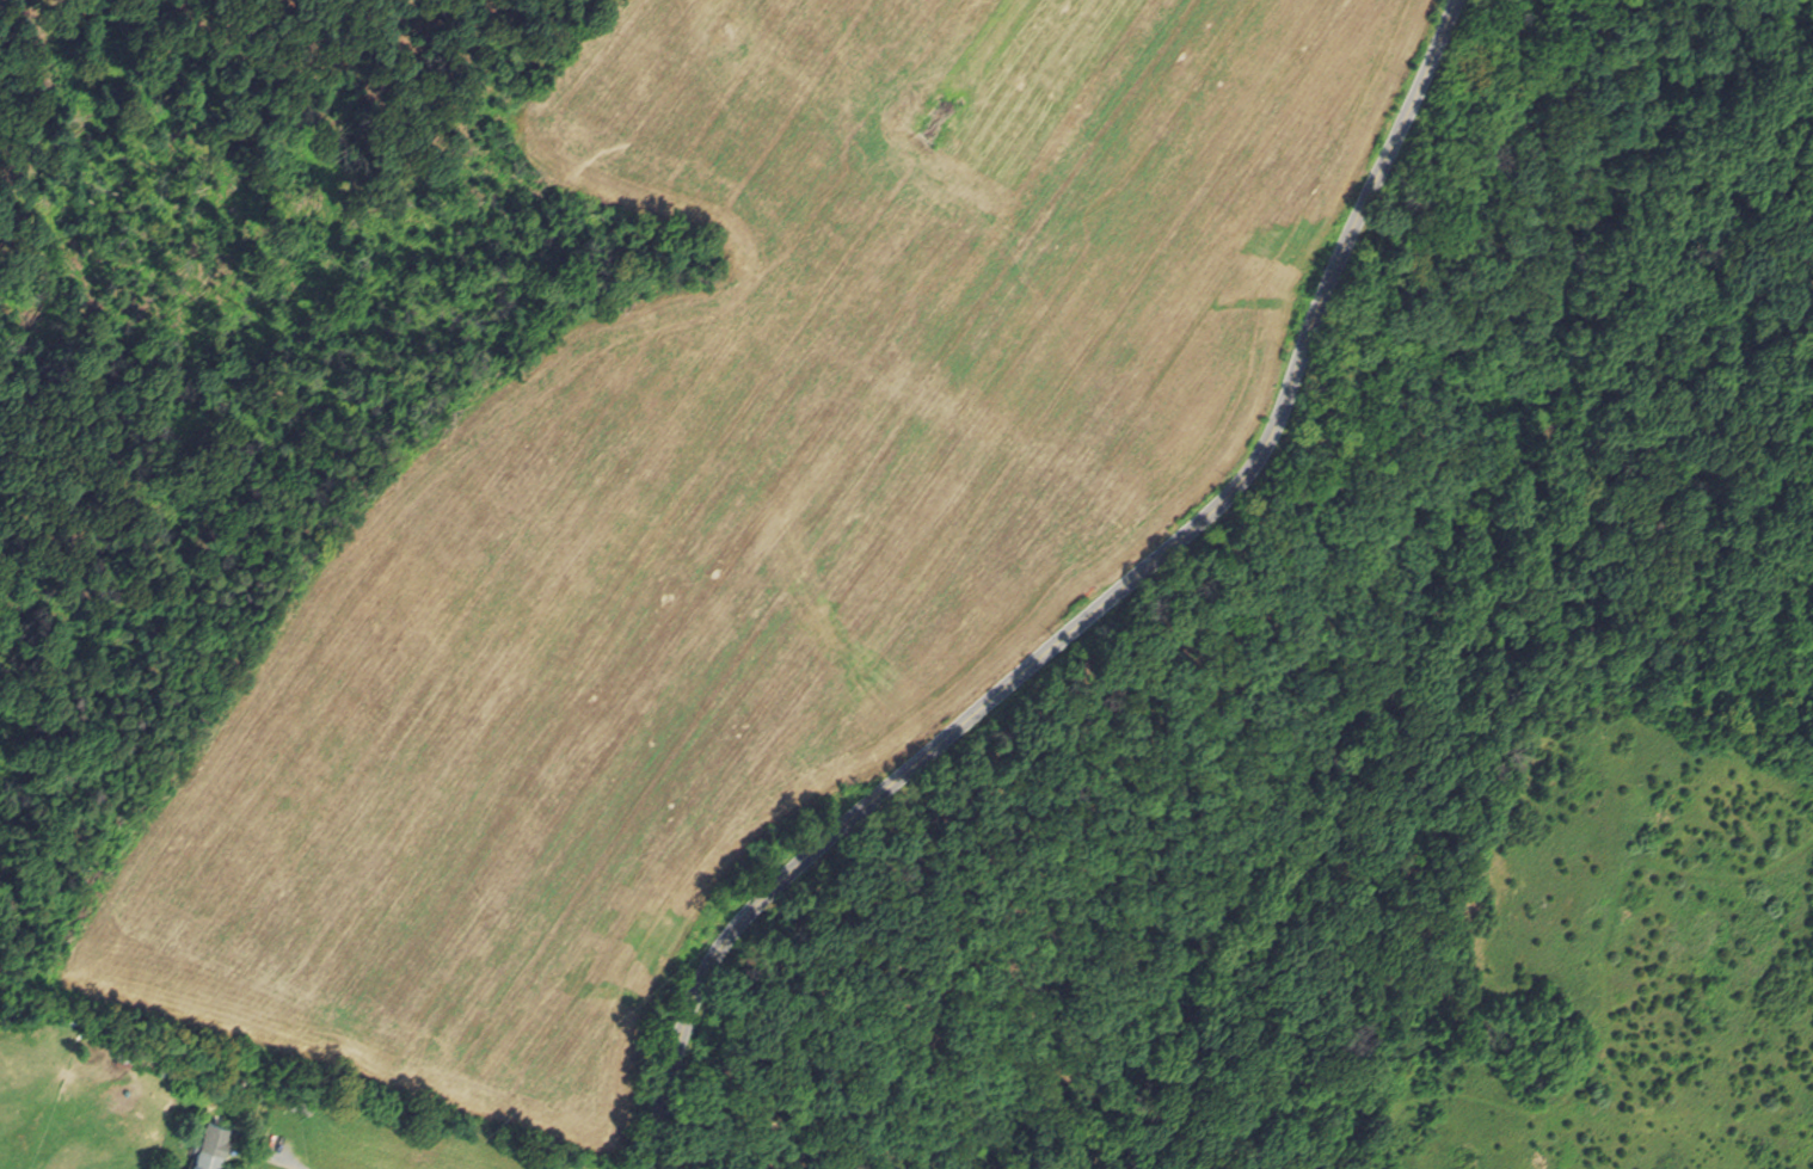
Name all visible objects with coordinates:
road: (1087, 615)
building: (118, 1052)
building: (299, 1101)
building: (291, 1103)
building: (213, 1137)
road: (272, 1162)

